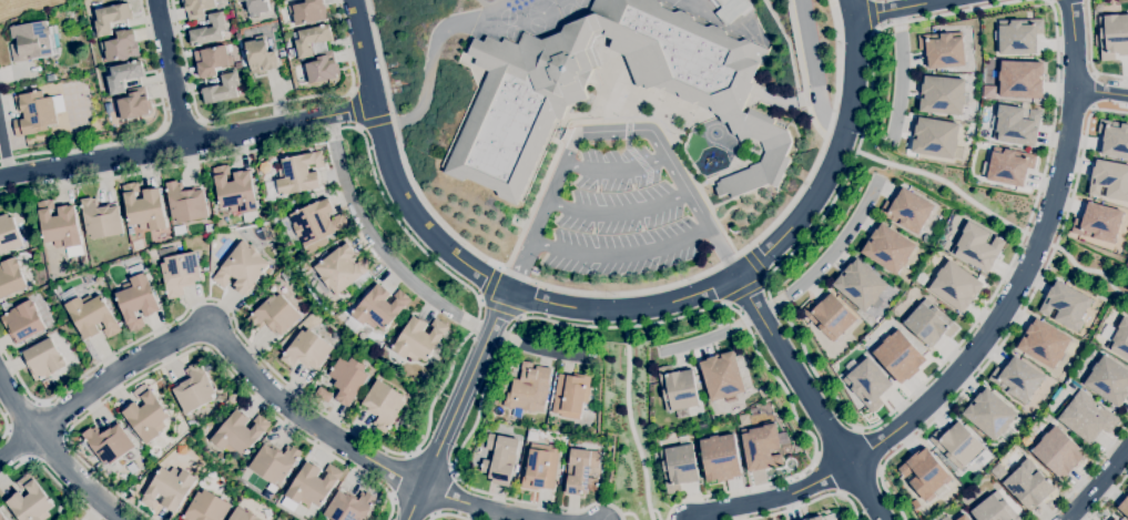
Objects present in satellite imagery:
building: (287, 0)
park: (487, 0)
park: (580, 2)
building: (256, 7)
building: (197, 8)
road: (905, 9)
building: (306, 11)
park: (567, 11)
road: (872, 17)
building: (110, 18)
building: (209, 31)
building: (1112, 35)
building: (1015, 38)
building: (31, 40)
building: (311, 40)
building: (120, 47)
road: (787, 48)
building: (942, 49)
road: (1090, 53)
building: (260, 55)
building: (211, 60)
building: (321, 70)
road: (812, 70)
road: (801, 71)
road: (172, 72)
road: (428, 72)
building: (123, 75)
road: (898, 79)
building: (1019, 80)
building: (221, 90)
road: (1091, 91)
road: (1100, 92)
building: (941, 95)
building: (528, 101)
road: (776, 101)
building: (134, 105)
road: (260, 106)
road: (354, 110)
building: (37, 112)
road: (376, 121)
road: (610, 121)
road: (181, 123)
building: (1014, 126)
road: (612, 131)
road: (146, 137)
building: (933, 137)
building: (1114, 140)
road: (187, 144)
road: (4, 154)
road: (632, 154)
road: (616, 169)
building: (1006, 170)
building: (296, 175)
building: (1109, 180)
building: (234, 190)
building: (185, 203)
building: (144, 207)
building: (907, 211)
road: (618, 214)
road: (996, 217)
building: (101, 220)
building: (317, 222)
building: (1098, 224)
building: (60, 227)
building: (209, 228)
building: (9, 235)
building: (977, 246)
building: (888, 248)
road: (620, 255)
road: (753, 262)
road: (1026, 263)
building: (242, 268)
building: (344, 269)
building: (180, 273)
building: (10, 277)
road: (1035, 281)
building: (860, 284)
road: (415, 285)
road: (490, 285)
building: (955, 285)
road: (744, 290)
road: (608, 292)
road: (791, 293)
building: (136, 298)
building: (1064, 306)
building: (379, 307)
road: (500, 307)
road: (610, 312)
building: (90, 315)
building: (274, 315)
building: (830, 316)
building: (22, 323)
building: (929, 323)
road: (619, 326)
building: (419, 338)
building: (1119, 340)
building: (1044, 344)
building: (307, 350)
road: (232, 354)
road: (455, 356)
building: (900, 356)
building: (42, 359)
building: (722, 376)
building: (1017, 378)
building: (347, 379)
road: (237, 381)
building: (1108, 381)
building: (867, 383)
road: (826, 387)
building: (678, 388)
building: (194, 389)
building: (531, 389)
building: (323, 395)
building: (571, 395)
road: (810, 397)
road: (458, 404)
building: (383, 405)
road: (23, 414)
building: (146, 415)
building: (988, 415)
road: (52, 418)
building: (1086, 418)
road: (4, 425)
road: (631, 425)
building: (240, 432)
building: (760, 439)
road: (18, 443)
building: (108, 443)
road: (20, 445)
building: (956, 445)
road: (48, 447)
road: (52, 450)
building: (1057, 452)
building: (720, 457)
building: (499, 459)
building: (274, 463)
building: (677, 467)
building: (539, 468)
building: (580, 471)
road: (1087, 471)
building: (923, 473)
road: (50, 476)
road: (402, 476)
road: (882, 481)
road: (1097, 481)
road: (103, 482)
road: (759, 483)
building: (1028, 486)
building: (309, 487)
building: (167, 489)
building: (1127, 490)
road: (735, 492)
road: (772, 496)
road: (840, 496)
road: (1107, 496)
road: (693, 499)
building: (29, 501)
road: (468, 504)
road: (790, 506)
building: (349, 507)
building: (1124, 507)
building: (206, 508)
building: (994, 509)
road: (773, 512)
road: (736, 513)
building: (242, 516)
road: (446, 516)
road: (629, 516)
road: (654, 516)
building: (1, 517)
road: (702, 518)
building: (813, 518)
building: (963, 518)
building: (1112, 519)

